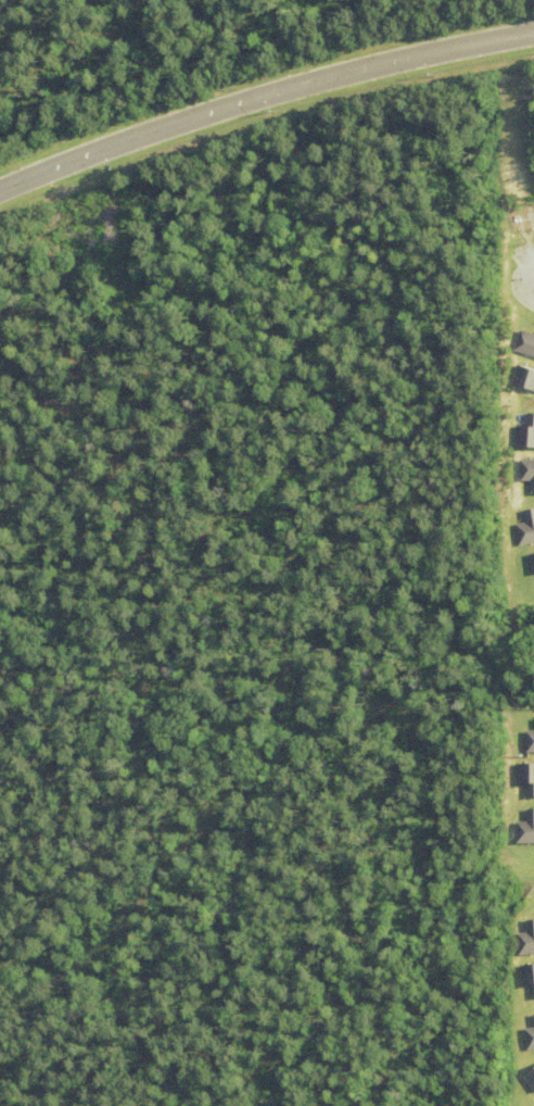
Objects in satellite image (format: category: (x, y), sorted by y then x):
road: (263, 98)
building: (523, 345)
building: (522, 379)
building: (524, 433)
building: (526, 474)
building: (525, 529)
building: (531, 564)
building: (529, 742)
building: (524, 779)
building: (524, 829)
building: (525, 941)
building: (526, 978)
building: (530, 1038)
building: (530, 1080)

